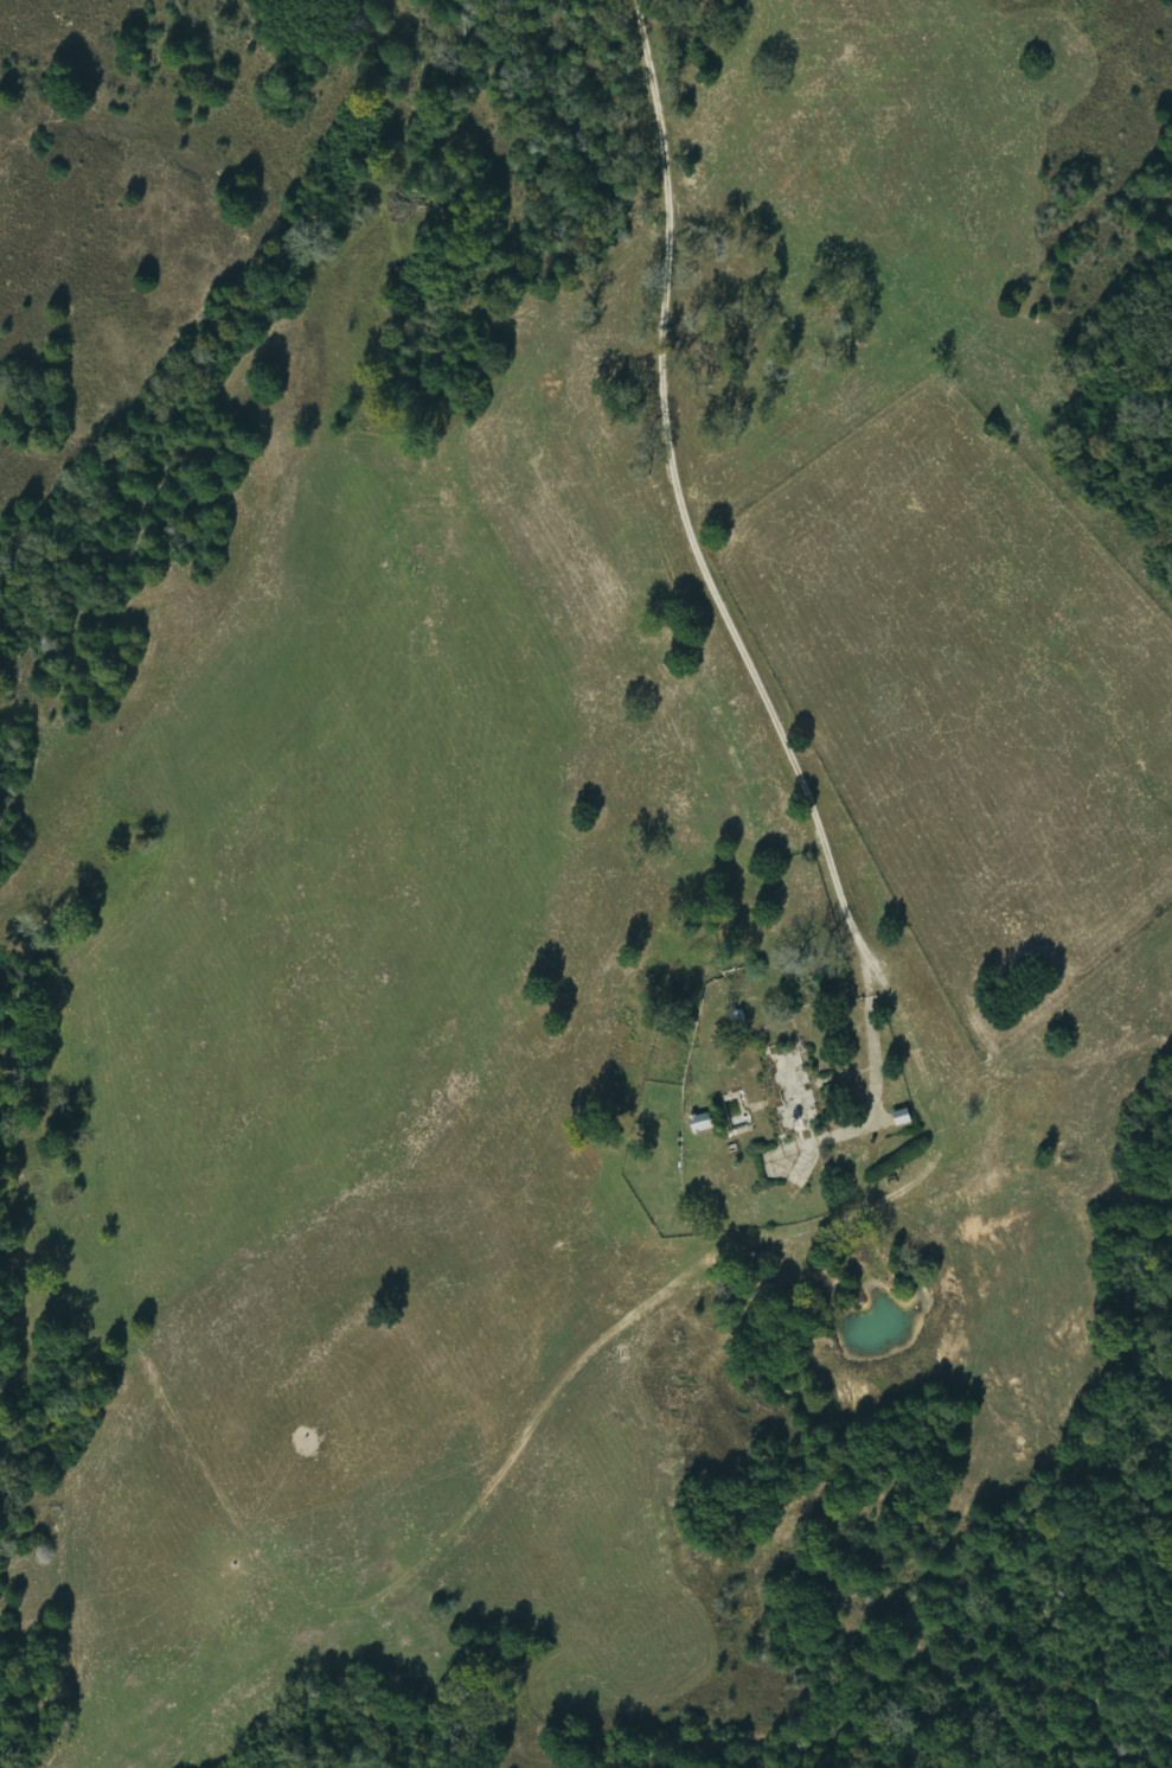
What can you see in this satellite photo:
road: (826, 985)

